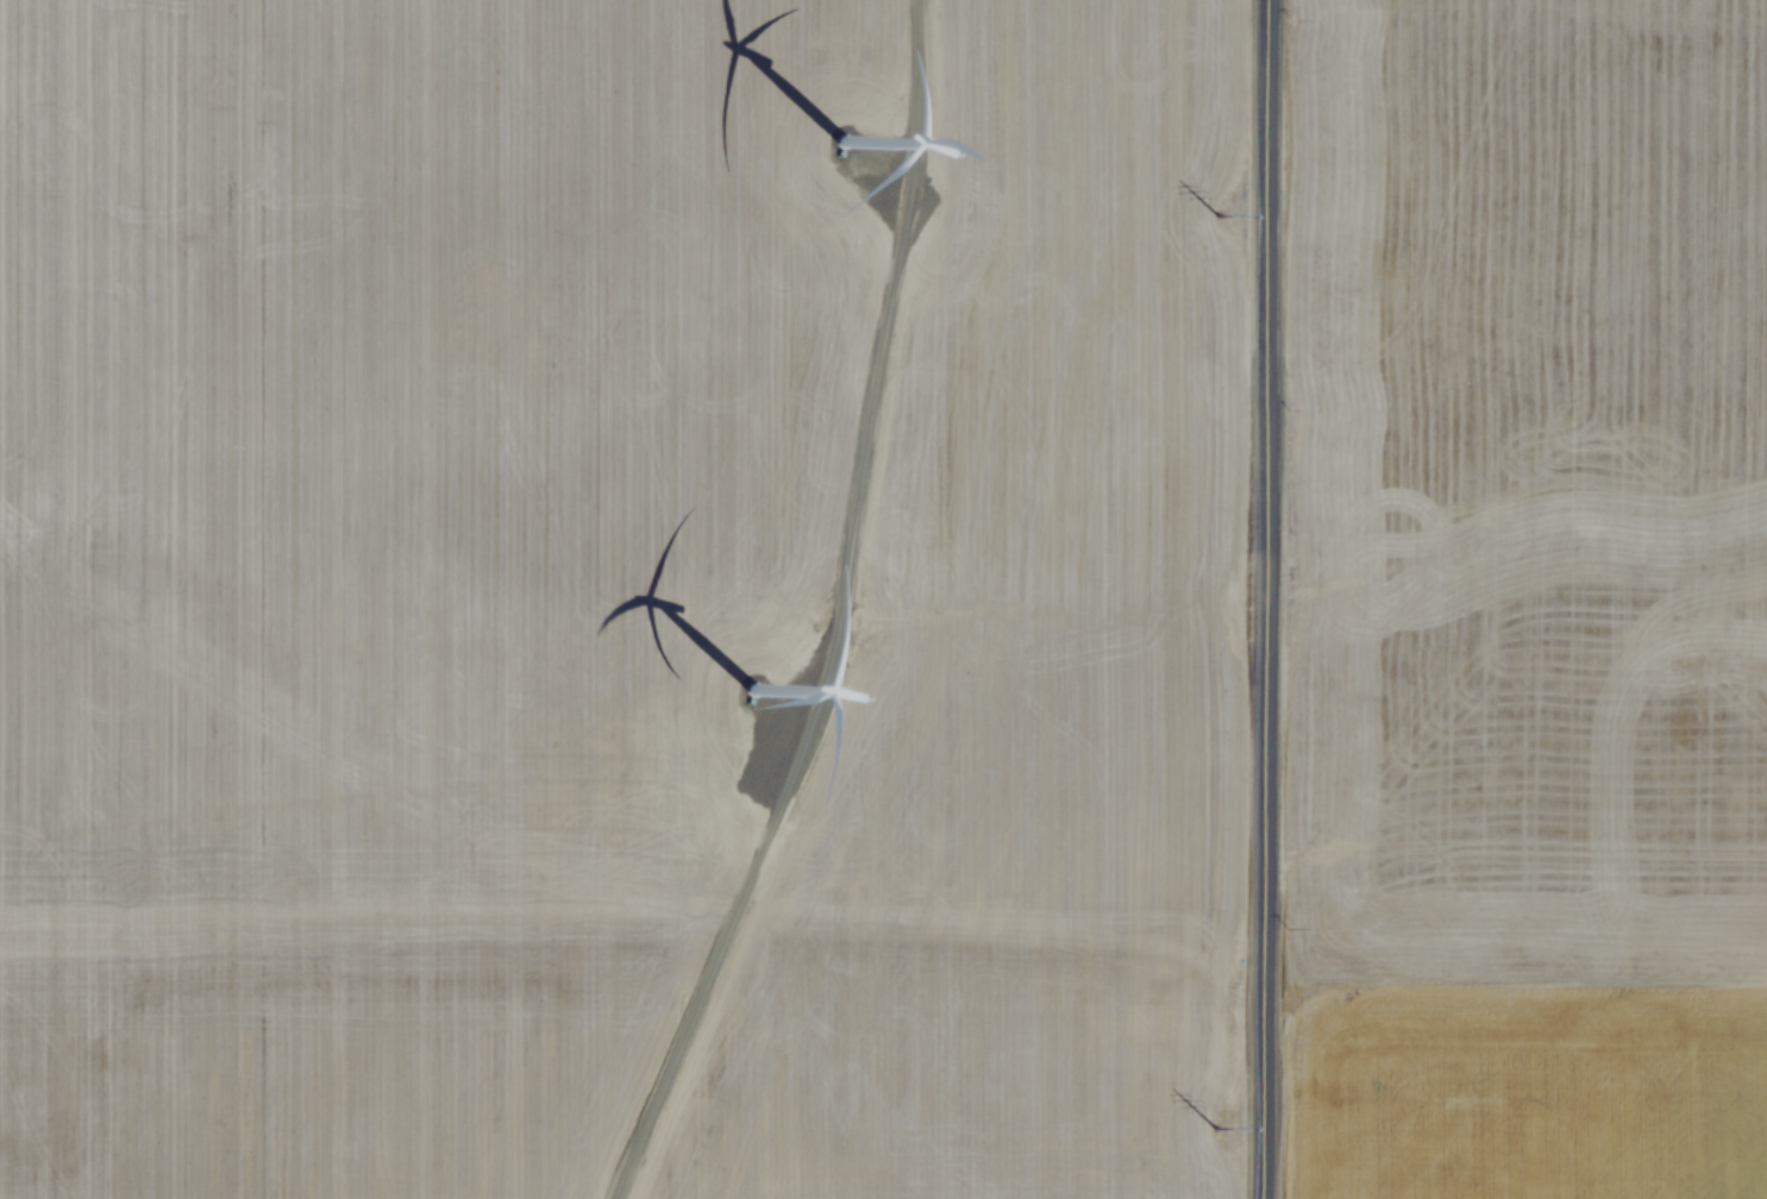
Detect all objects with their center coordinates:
wind turbine: (838, 146)
power tower: (1213, 199)
road: (1259, 598)
road: (823, 616)
wind turbine: (760, 711)
power tower: (1211, 1115)

